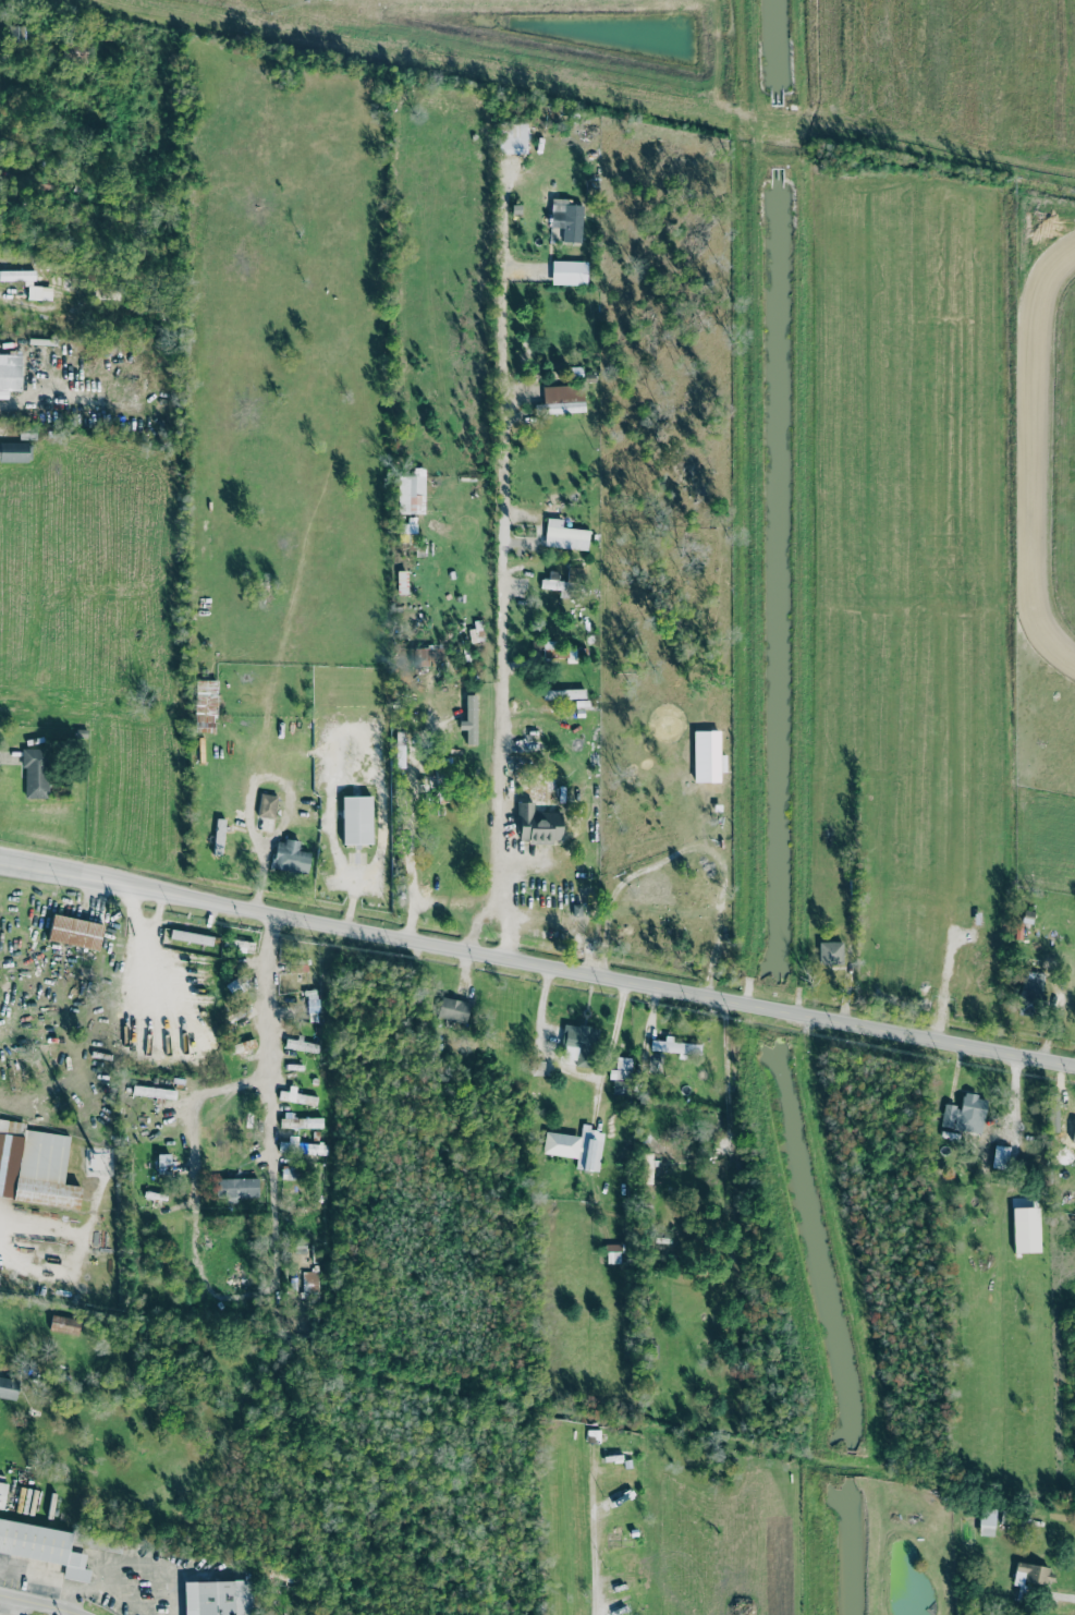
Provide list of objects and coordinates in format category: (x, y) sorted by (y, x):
building: (16, 34)
building: (512, 137)
building: (565, 222)
building: (569, 271)
building: (27, 283)
building: (10, 372)
building: (563, 399)
building: (15, 451)
building: (411, 491)
building: (563, 535)
road: (502, 561)
building: (553, 583)
building: (558, 651)
building: (205, 705)
building: (468, 719)
building: (707, 756)
building: (35, 773)
building: (267, 805)
building: (355, 818)
building: (537, 824)
building: (218, 836)
road: (411, 845)
building: (290, 857)
road: (416, 918)
building: (75, 932)
building: (192, 937)
building: (830, 951)
road: (537, 961)
building: (1029, 991)
building: (454, 1009)
road: (268, 1032)
building: (300, 1044)
building: (577, 1044)
building: (244, 1047)
building: (675, 1047)
building: (620, 1068)
road: (574, 1072)
road: (597, 1094)
building: (297, 1097)
road: (199, 1101)
building: (964, 1114)
building: (300, 1120)
building: (1073, 1132)
building: (302, 1146)
building: (576, 1146)
building: (164, 1163)
building: (35, 1166)
building: (646, 1167)
building: (289, 1171)
building: (237, 1187)
road: (38, 1191)
road: (276, 1219)
building: (611, 1252)
building: (310, 1282)
building: (64, 1324)
building: (8, 1387)
building: (2, 1493)
building: (986, 1521)
building: (42, 1546)
road: (595, 1553)
building: (1028, 1572)
building: (217, 1598)
road: (39, 1603)
road: (14, 1606)

